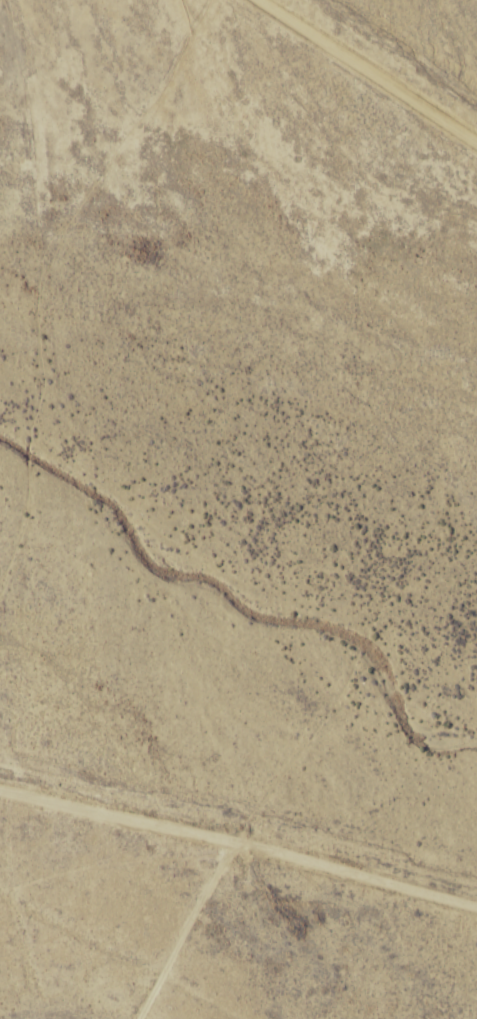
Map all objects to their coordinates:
road: (285, 570)

